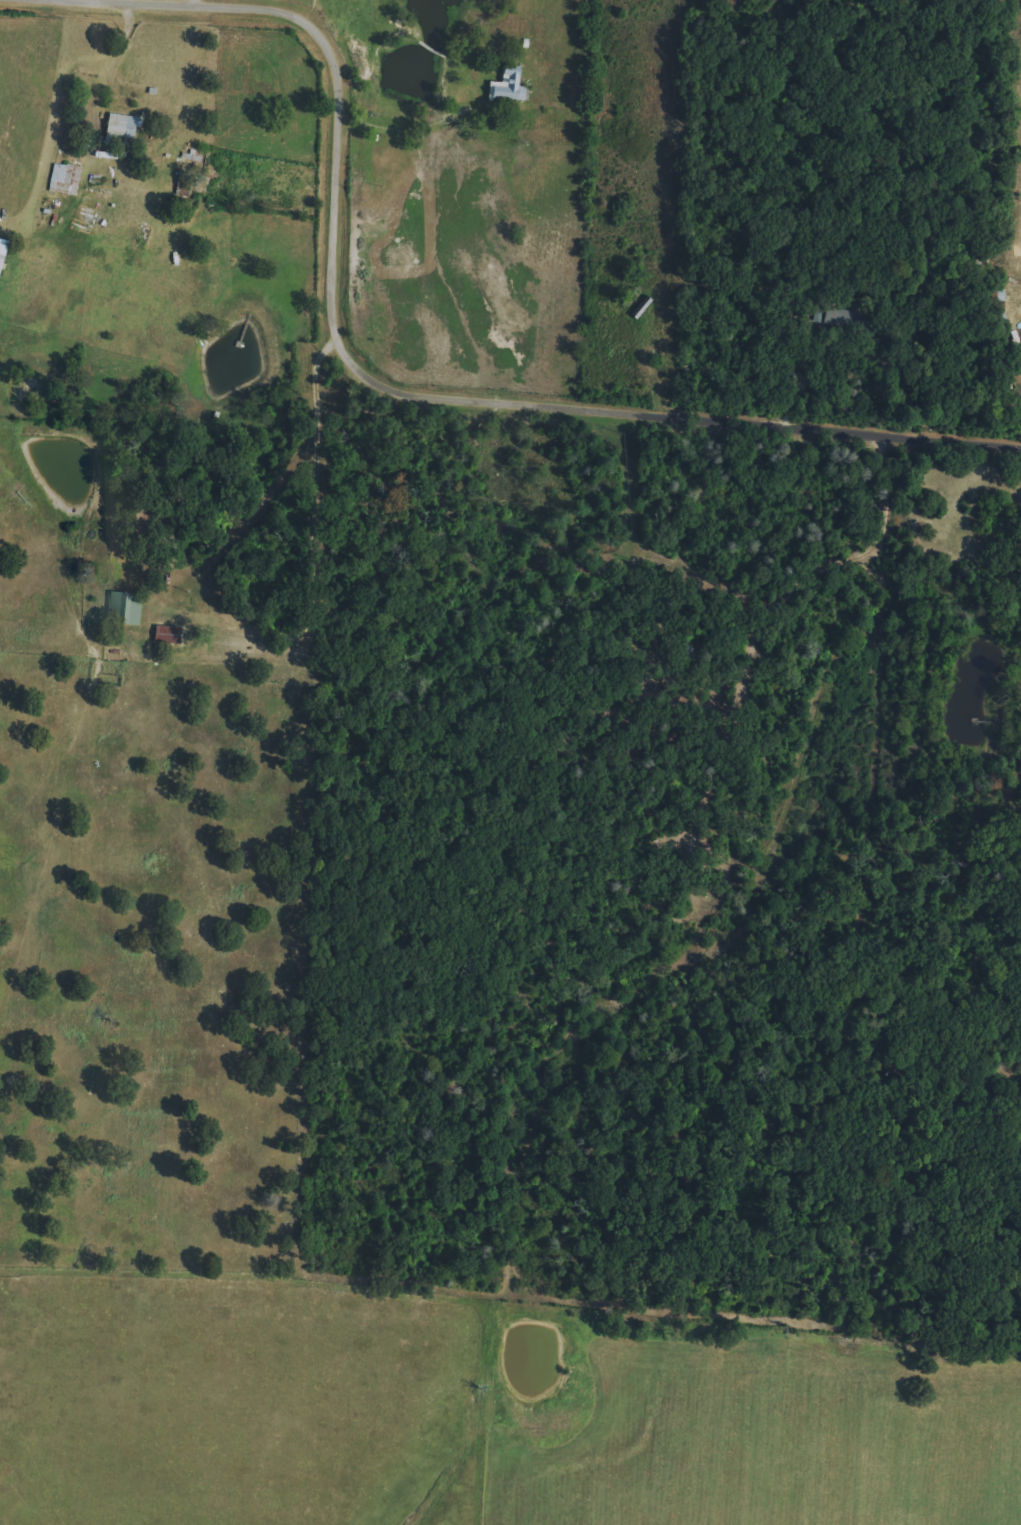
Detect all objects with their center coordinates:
road: (203, 2)
building: (508, 87)
road: (64, 93)
road: (337, 111)
building: (121, 128)
building: (64, 176)
building: (2, 262)
road: (702, 418)
road: (312, 542)
building: (125, 606)
building: (168, 634)

